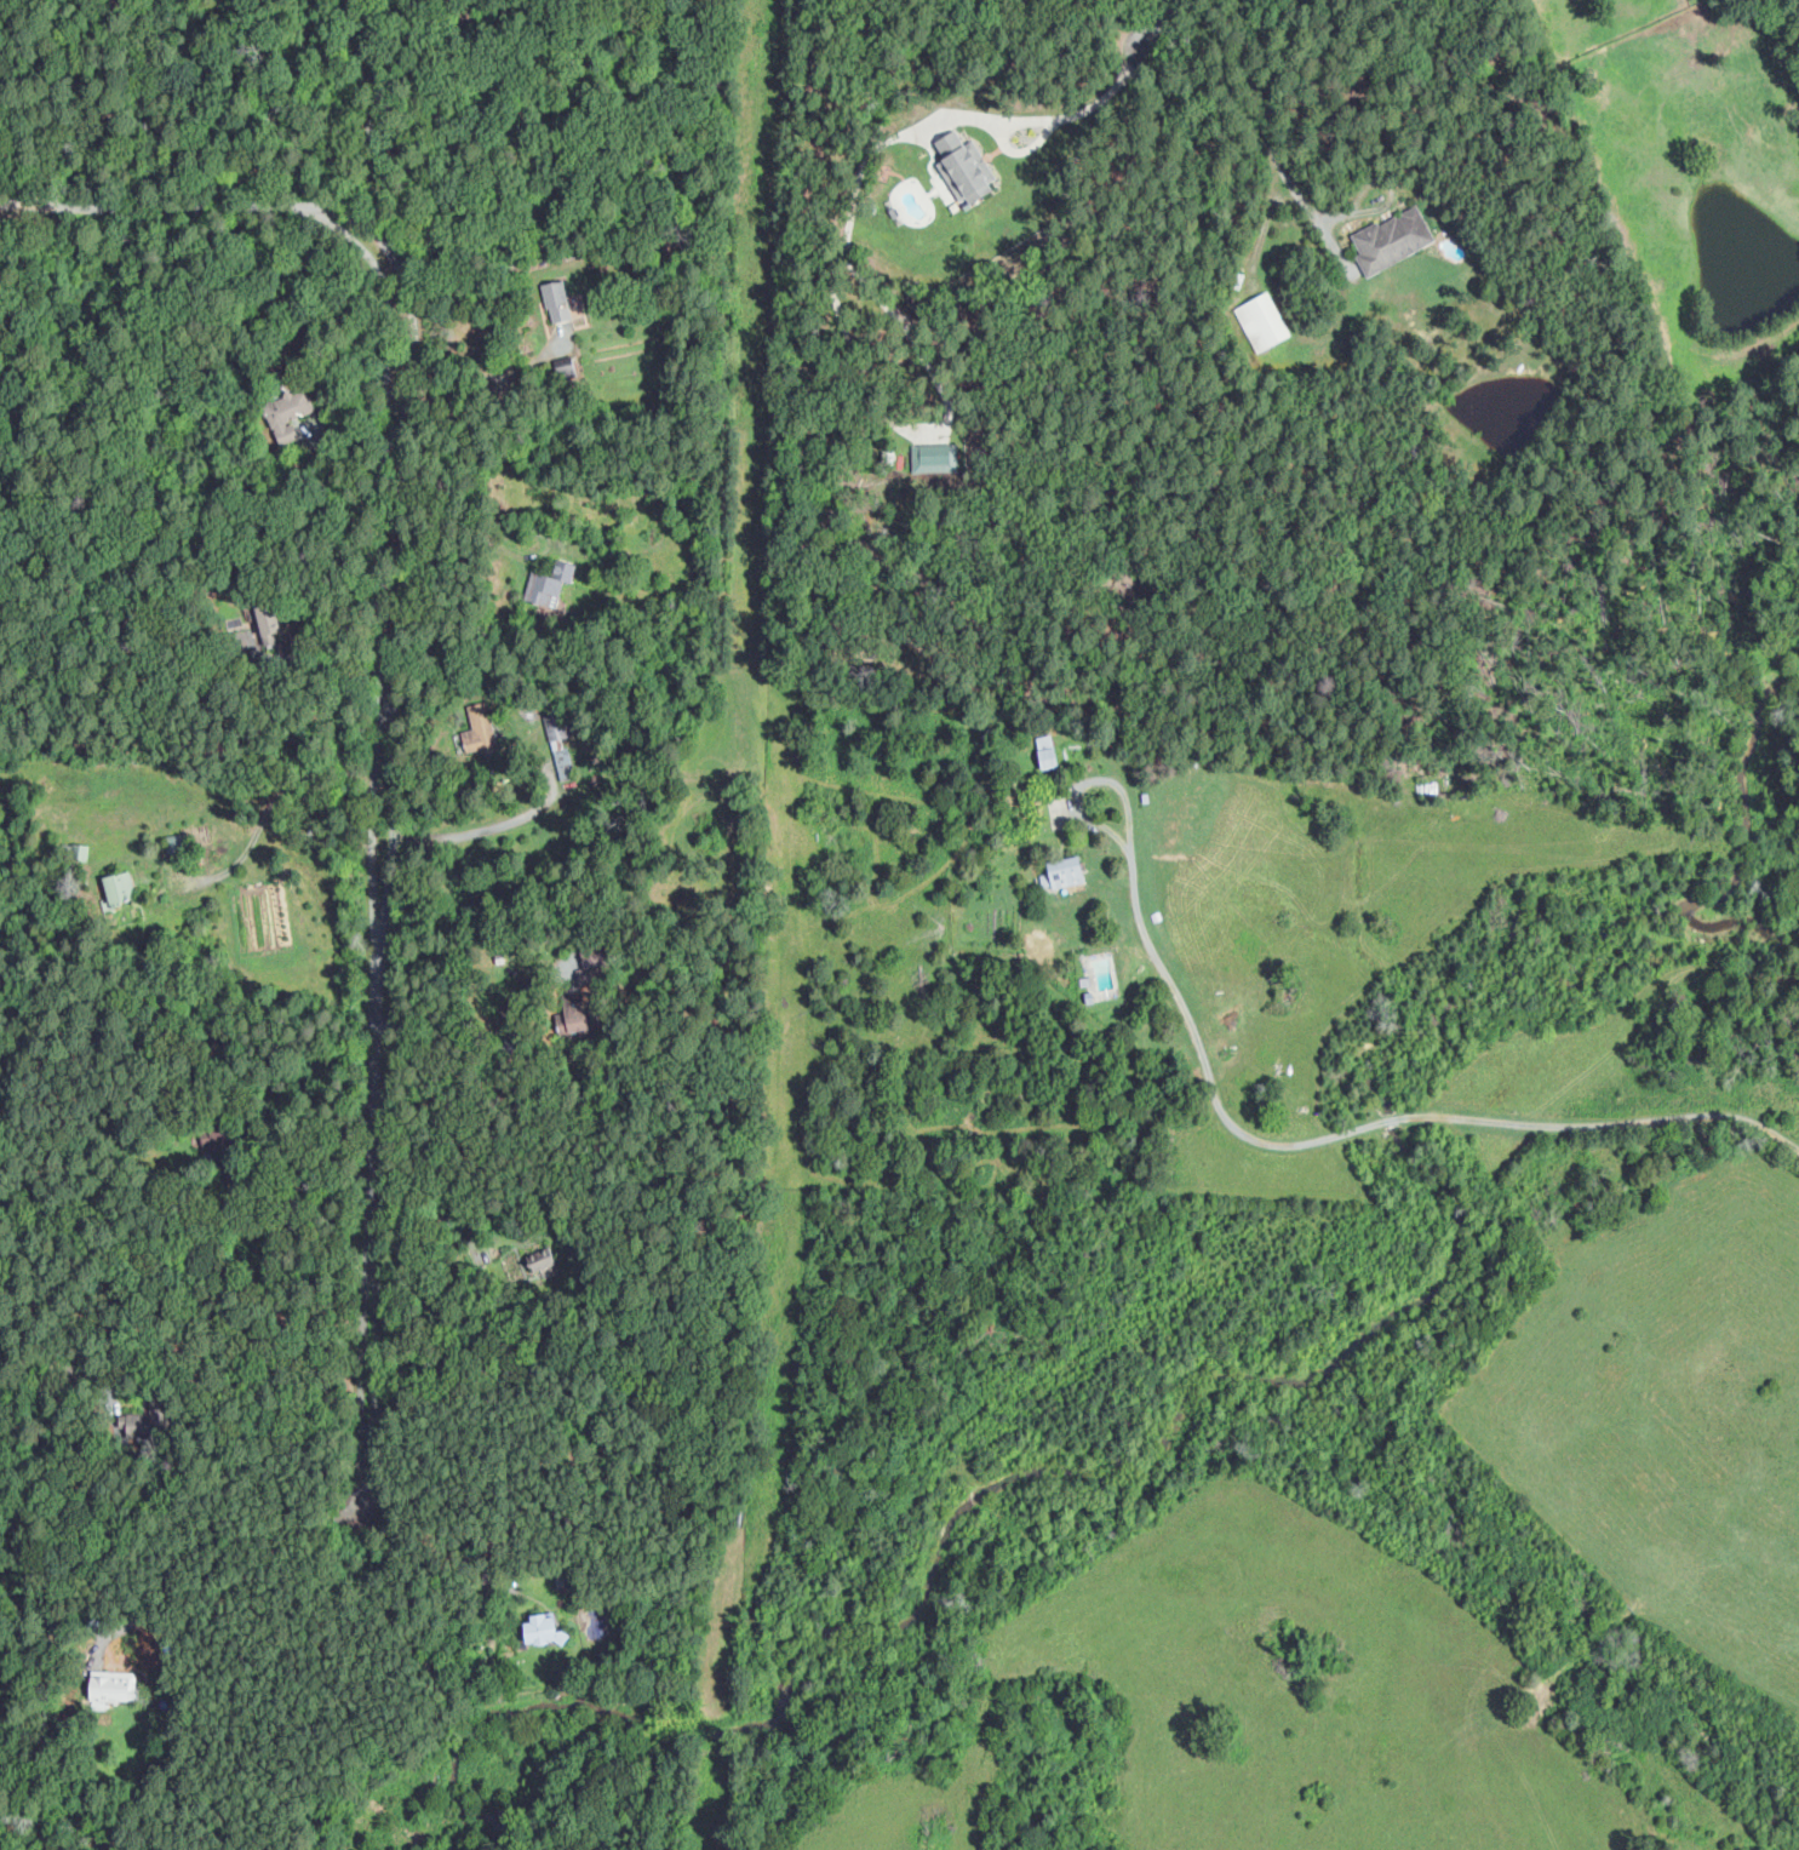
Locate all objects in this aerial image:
road: (1169, 16)
road: (277, 103)
road: (372, 110)
road: (1073, 114)
road: (1272, 142)
building: (963, 166)
road: (167, 208)
building: (1391, 239)
building: (556, 299)
building: (1261, 320)
building: (566, 370)
building: (288, 412)
building: (932, 457)
road: (403, 572)
road: (384, 580)
building: (546, 585)
building: (267, 619)
road: (323, 663)
building: (477, 729)
building: (1045, 751)
road: (1089, 783)
road: (267, 811)
road: (481, 831)
building: (1061, 871)
building: (118, 886)
road: (482, 1041)
road: (1363, 1127)
road: (317, 1180)
road: (454, 1221)
road: (374, 1237)
building: (539, 1259)
road: (225, 1359)
road: (200, 1542)
building: (542, 1630)
building: (110, 1683)

